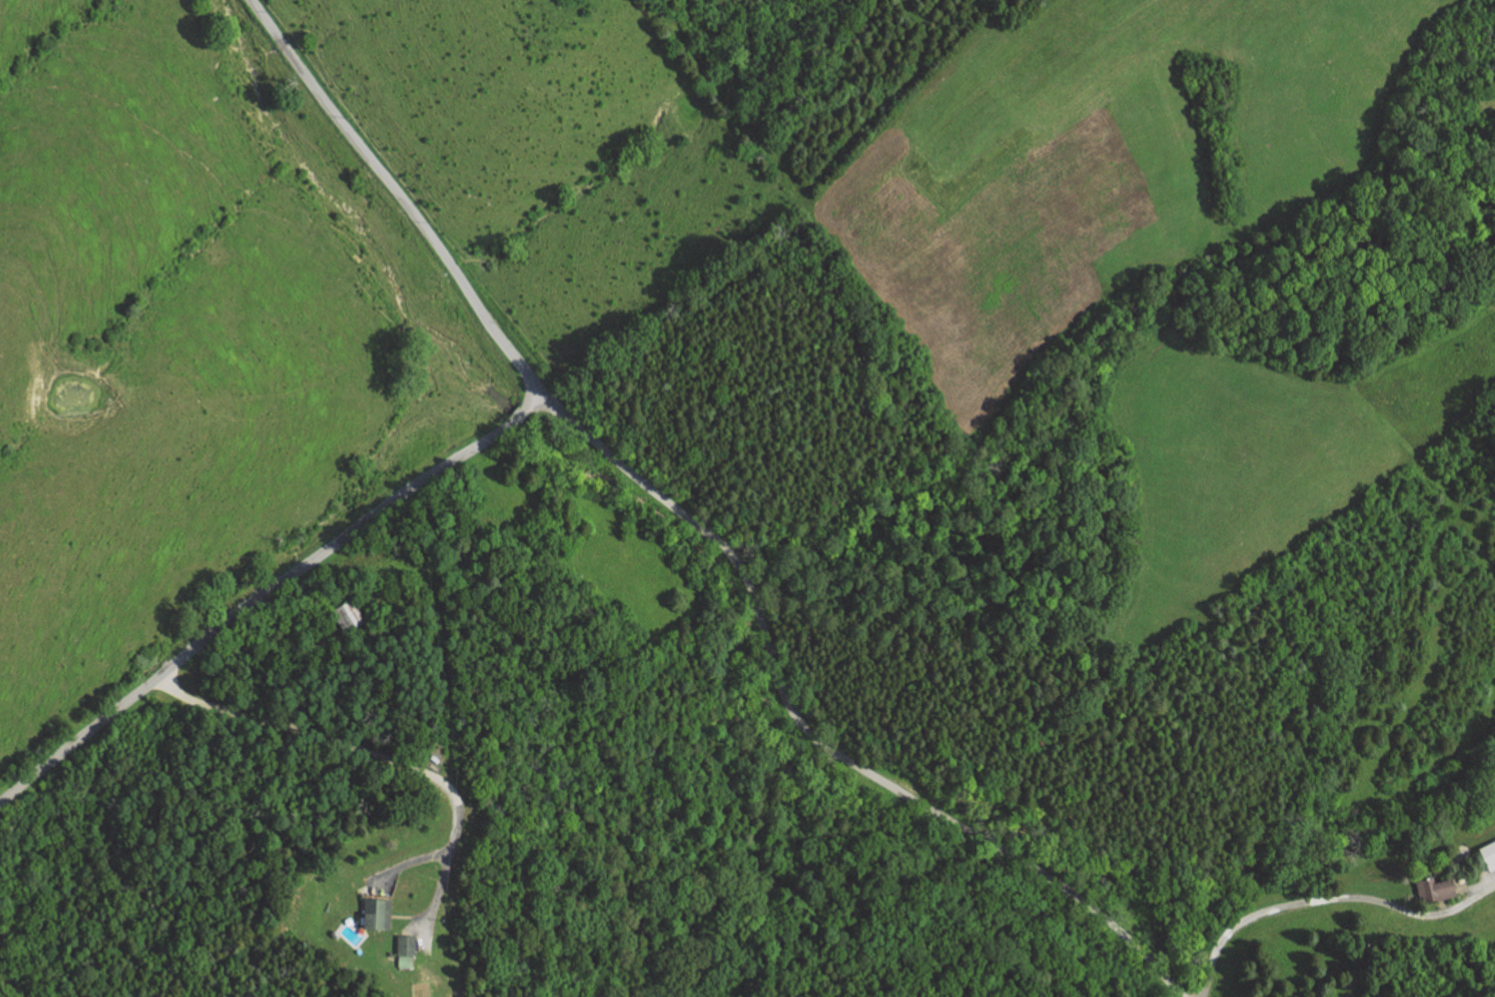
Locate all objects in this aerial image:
road: (398, 194)
road: (532, 400)
road: (519, 414)
road: (250, 599)
building: (349, 615)
road: (294, 649)
road: (813, 737)
road: (376, 754)
building: (1488, 854)
road: (1471, 887)
building: (1436, 890)
road: (1327, 897)
road: (436, 900)
building: (377, 914)
road: (408, 917)
building: (406, 951)

